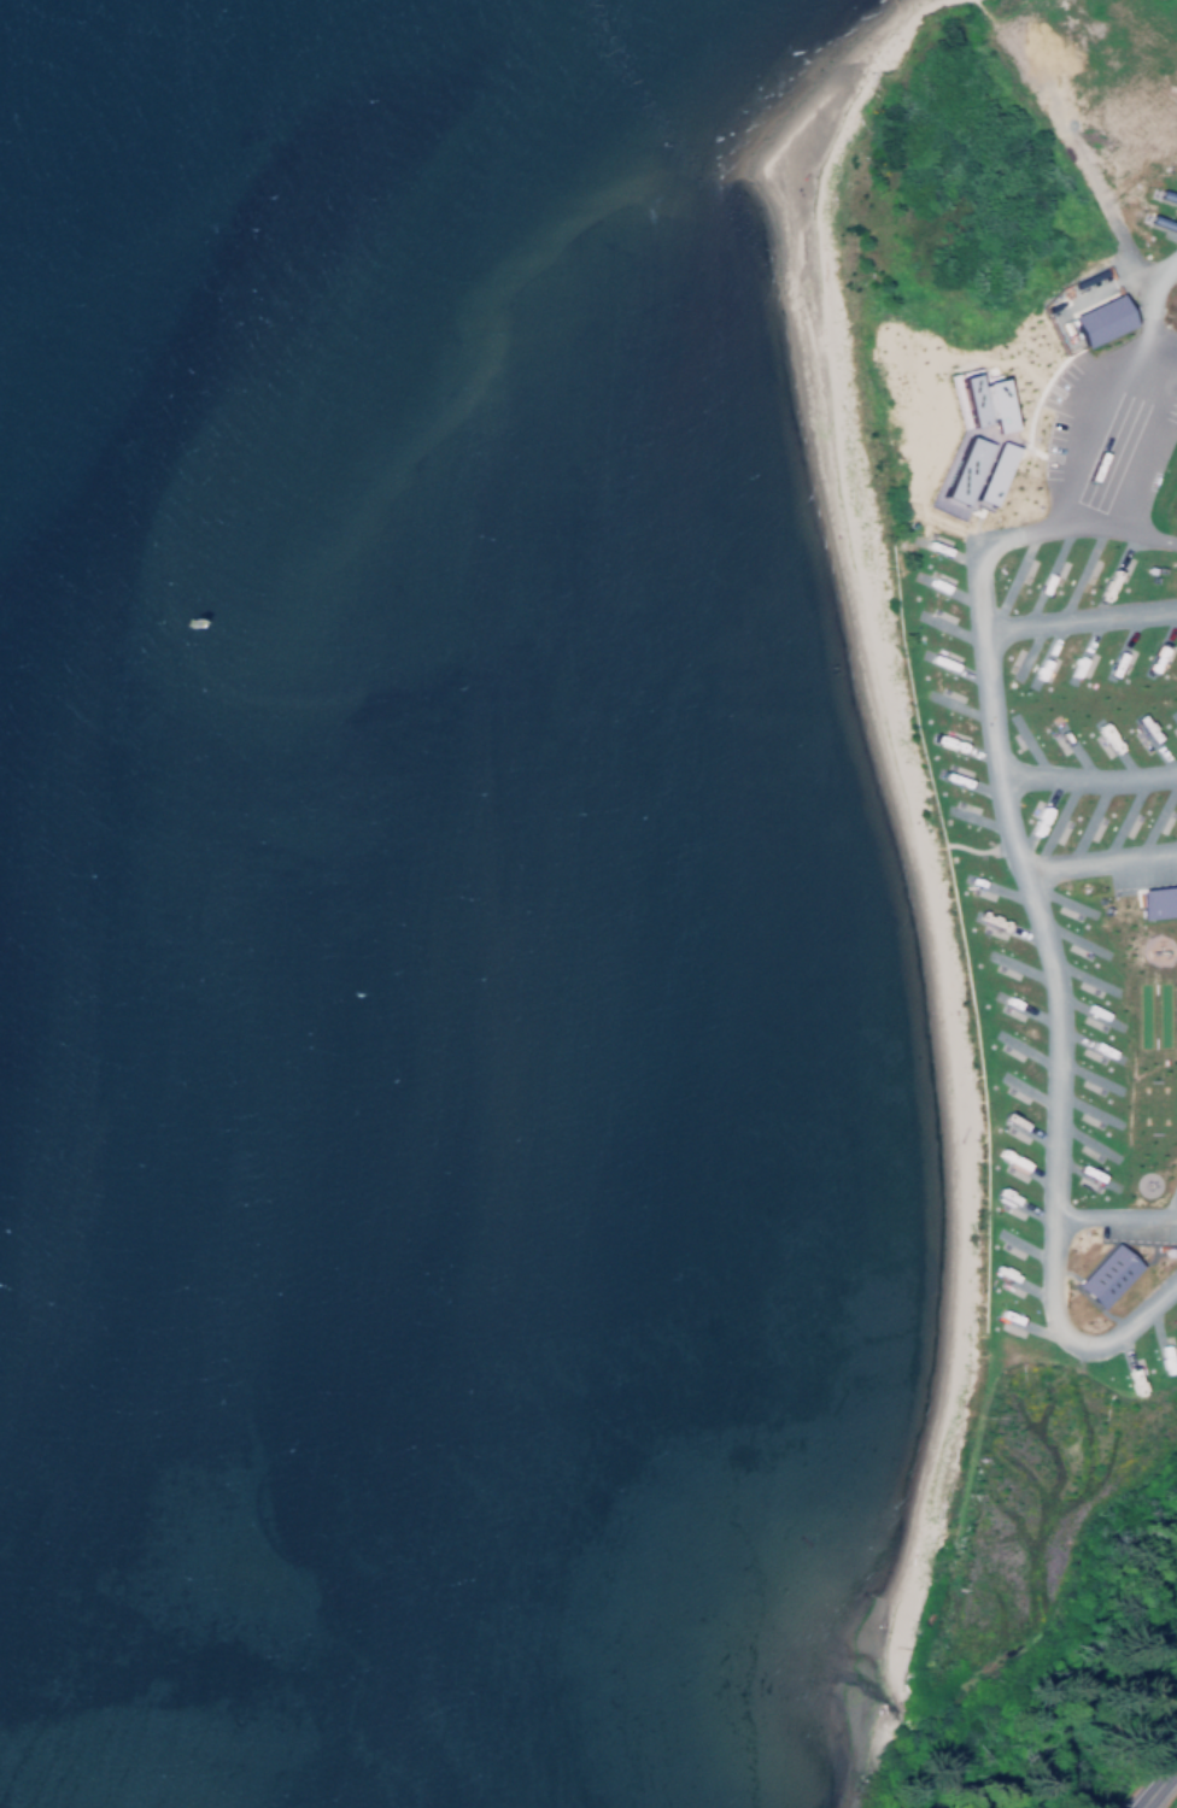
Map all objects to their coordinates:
building: (1095, 319)
building: (976, 403)
road: (1036, 469)
building: (965, 475)
building: (1152, 900)
building: (1100, 1275)
road: (1155, 1780)
road: (1138, 1807)

